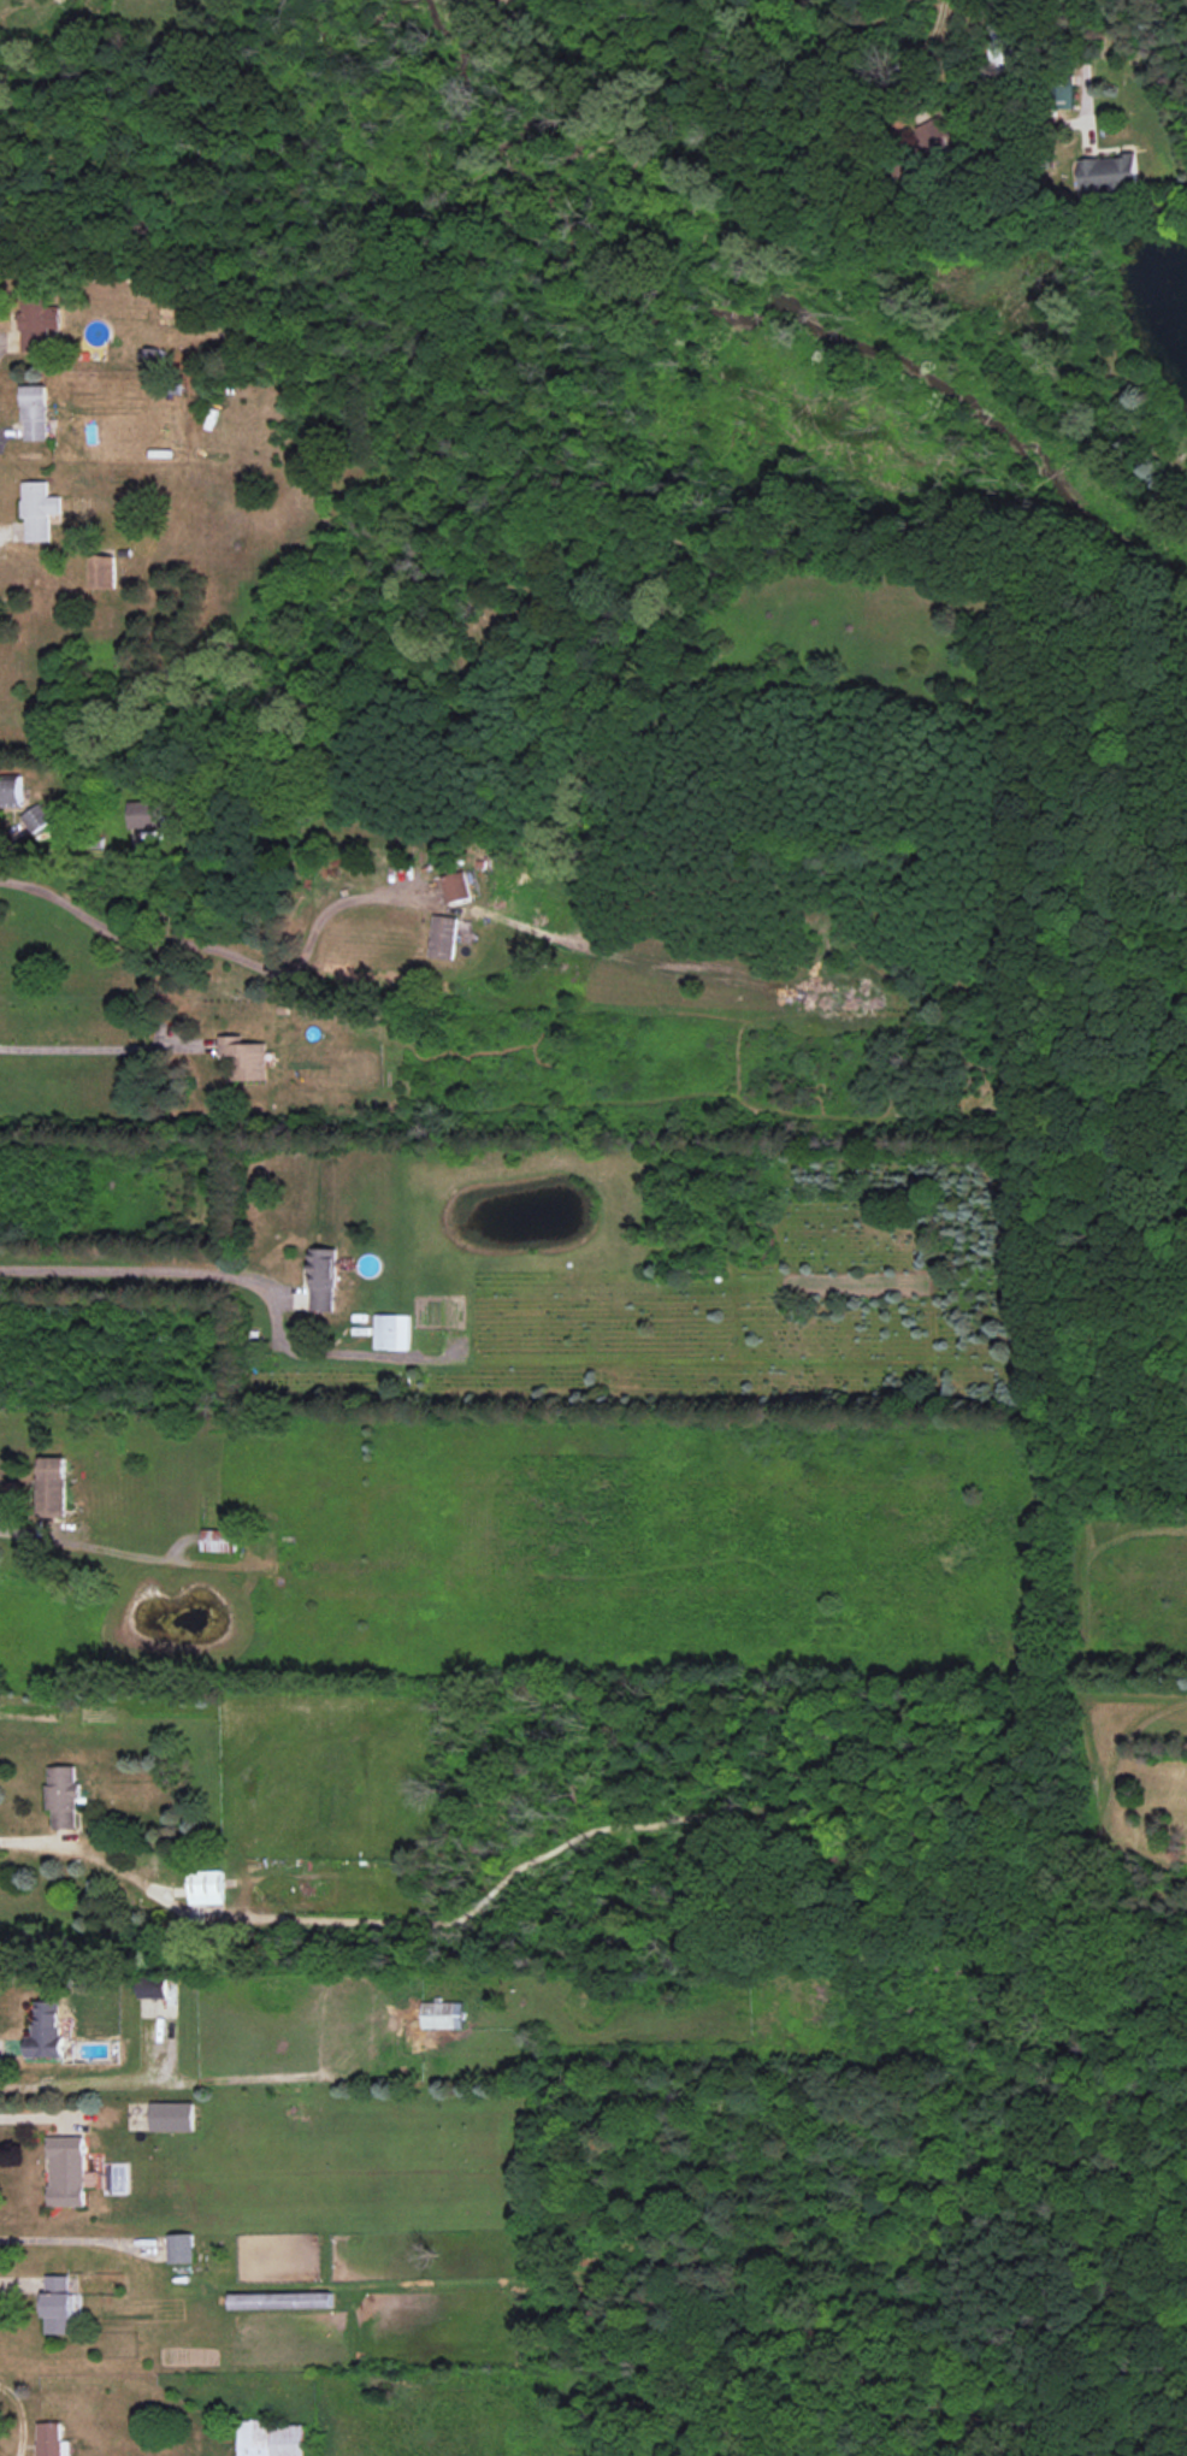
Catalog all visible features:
road: (927, 46)
road: (1081, 64)
building: (1067, 96)
building: (1111, 173)
building: (35, 412)
building: (40, 510)
building: (102, 572)
building: (11, 792)
building: (147, 815)
building: (36, 817)
building: (457, 886)
building: (444, 937)
road: (214, 949)
road: (89, 1057)
building: (247, 1057)
road: (141, 1277)
building: (324, 1279)
building: (392, 1332)
building: (52, 1487)
road: (28, 1529)
building: (219, 1540)
building: (65, 1795)
road: (31, 1840)
building: (207, 1887)
building: (153, 1986)
building: (443, 2014)
building: (47, 2031)
road: (76, 2092)
building: (173, 2115)
building: (69, 2171)
road: (58, 2240)
building: (182, 2248)
building: (282, 2301)
building: (60, 2306)
building: (273, 2438)
building: (52, 2439)

